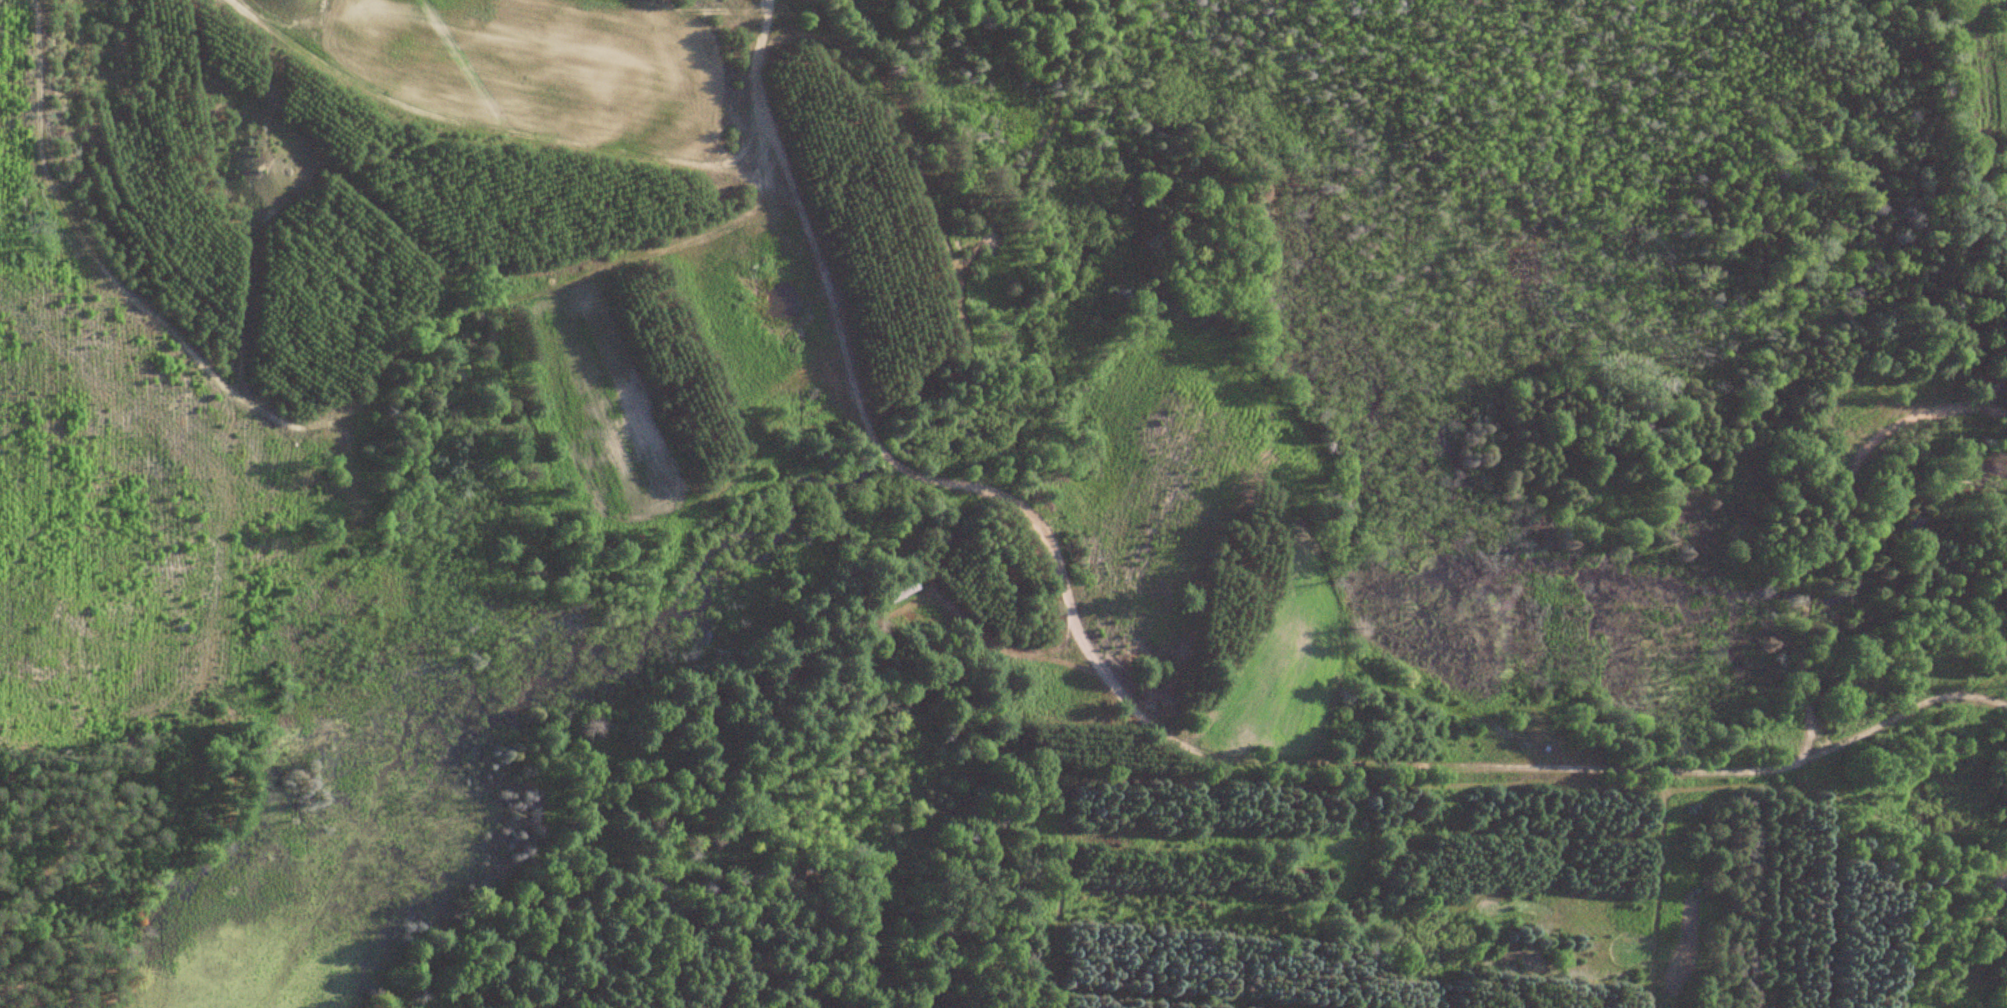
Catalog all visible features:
building: (904, 592)

